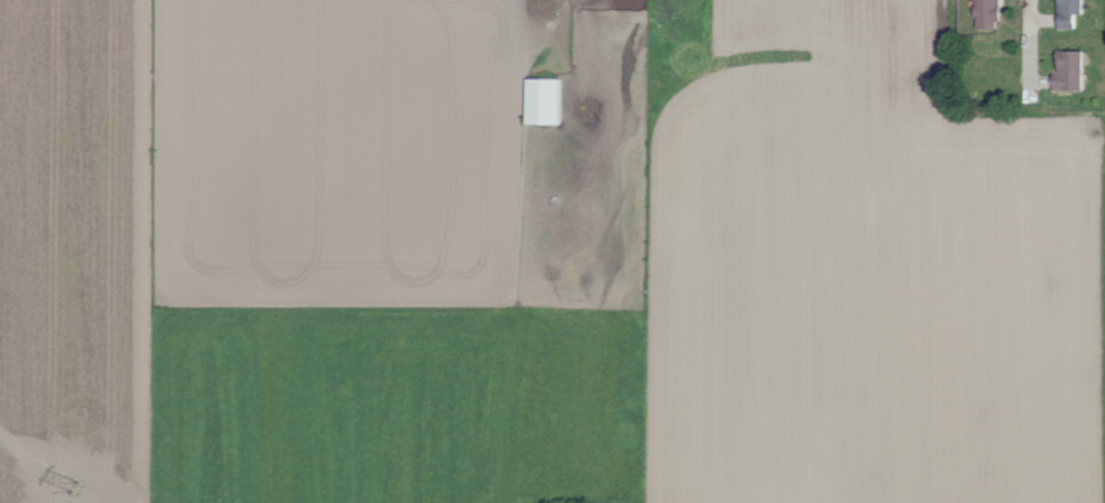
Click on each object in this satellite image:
building: (1074, 12)
building: (992, 13)
road: (1029, 47)
road: (584, 55)
building: (1074, 70)
building: (549, 100)
crop: (867, 274)

